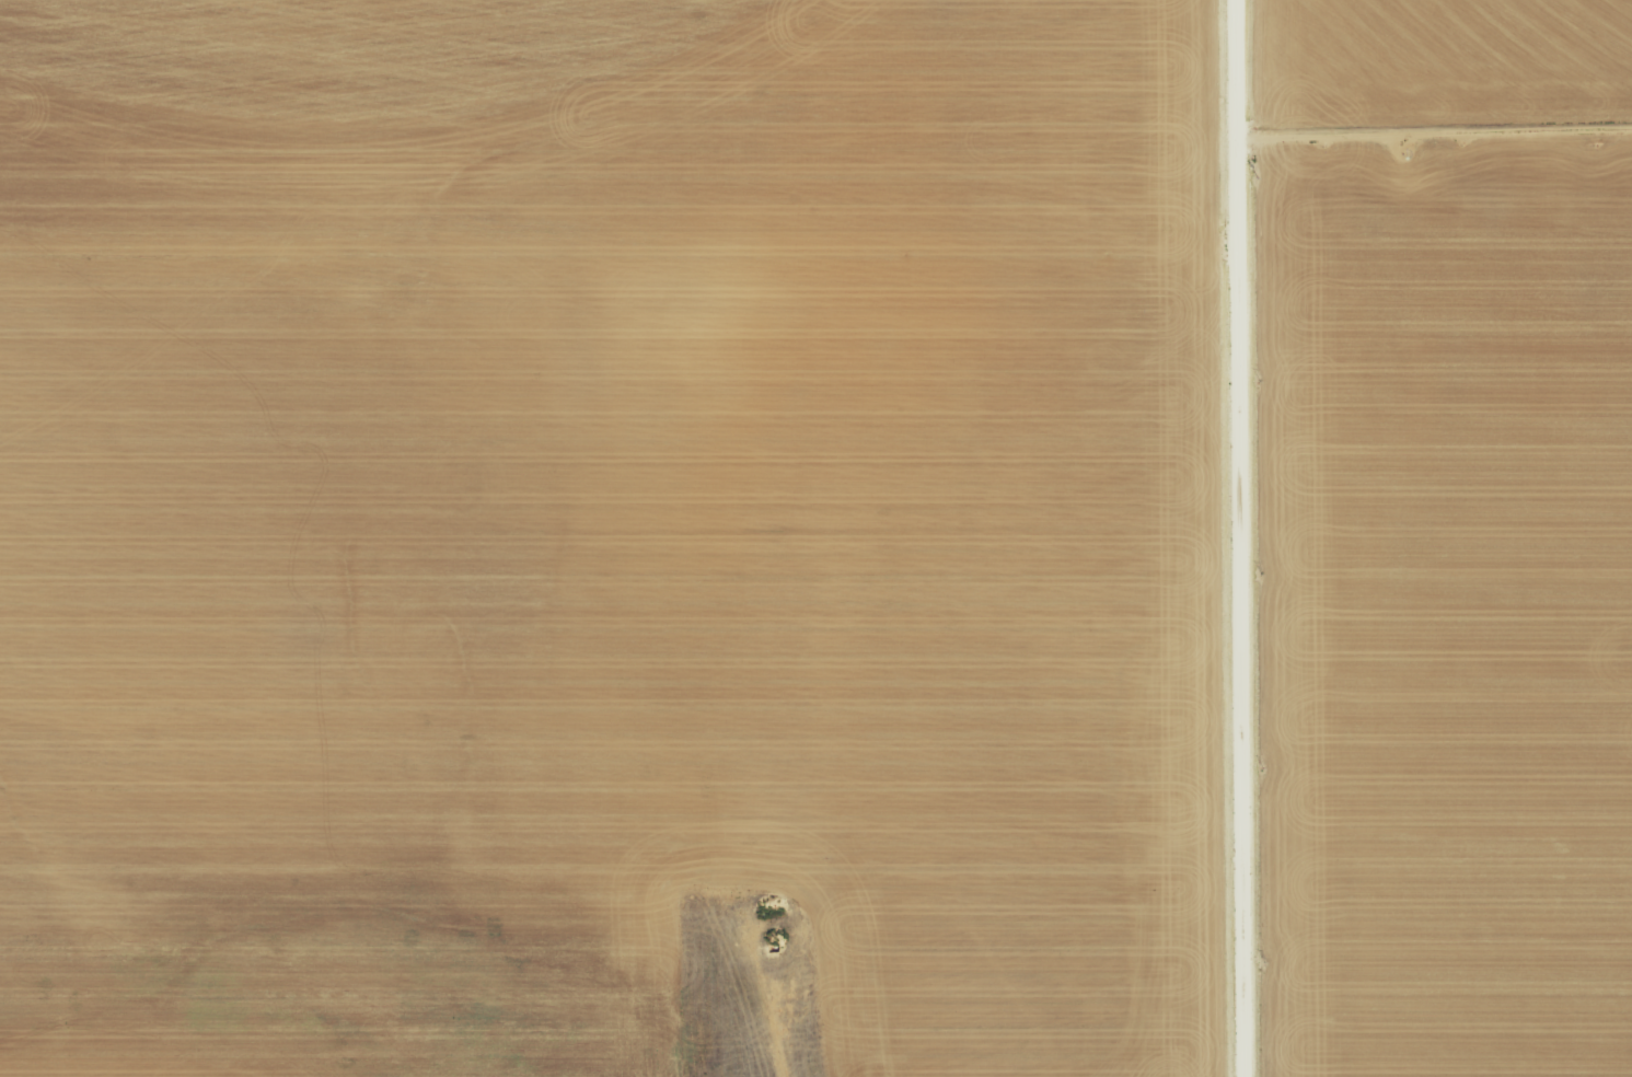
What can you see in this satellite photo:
road: (1236, 538)

